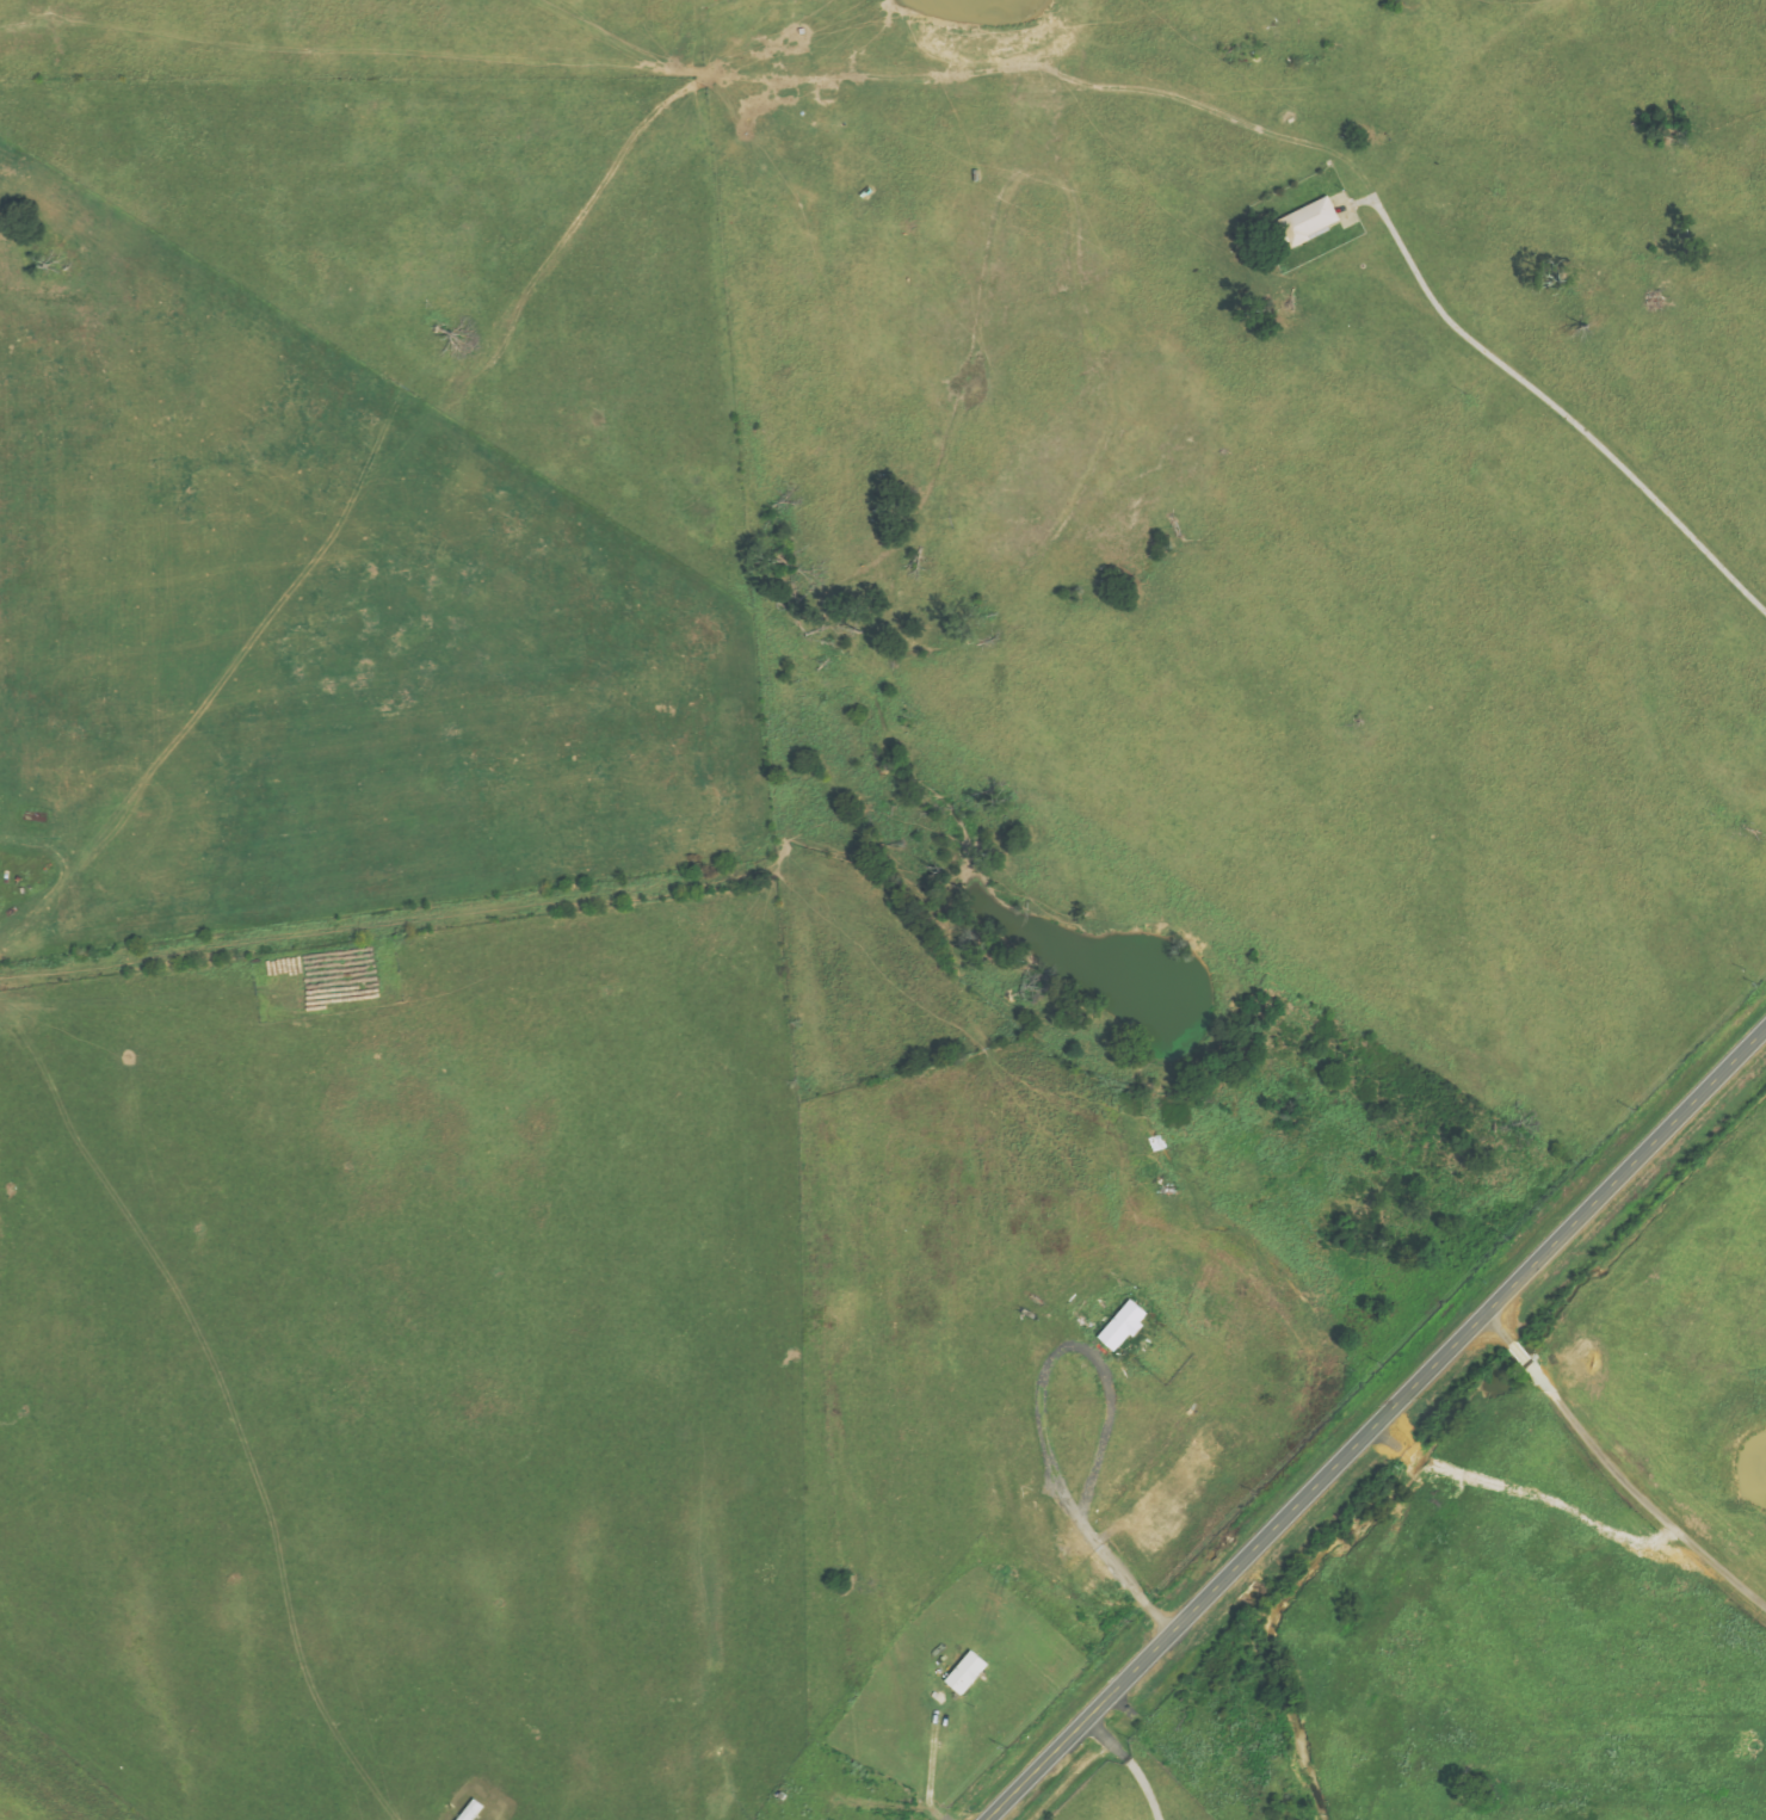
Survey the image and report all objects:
building: (1309, 220)
building: (1122, 1326)
road: (1378, 1424)
road: (1620, 1468)
building: (965, 1673)
road: (1132, 1764)

